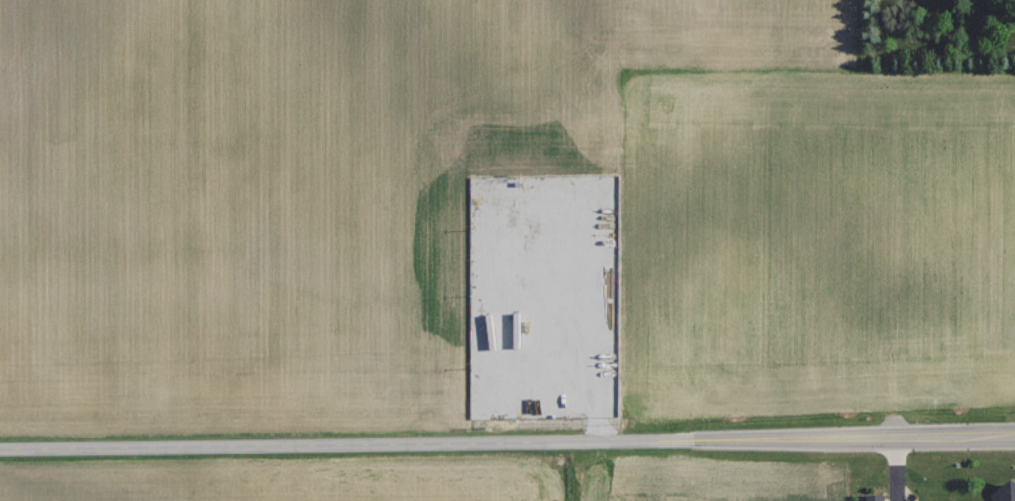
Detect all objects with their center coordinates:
road: (589, 292)
road: (507, 442)
building: (1005, 492)
building: (872, 498)

